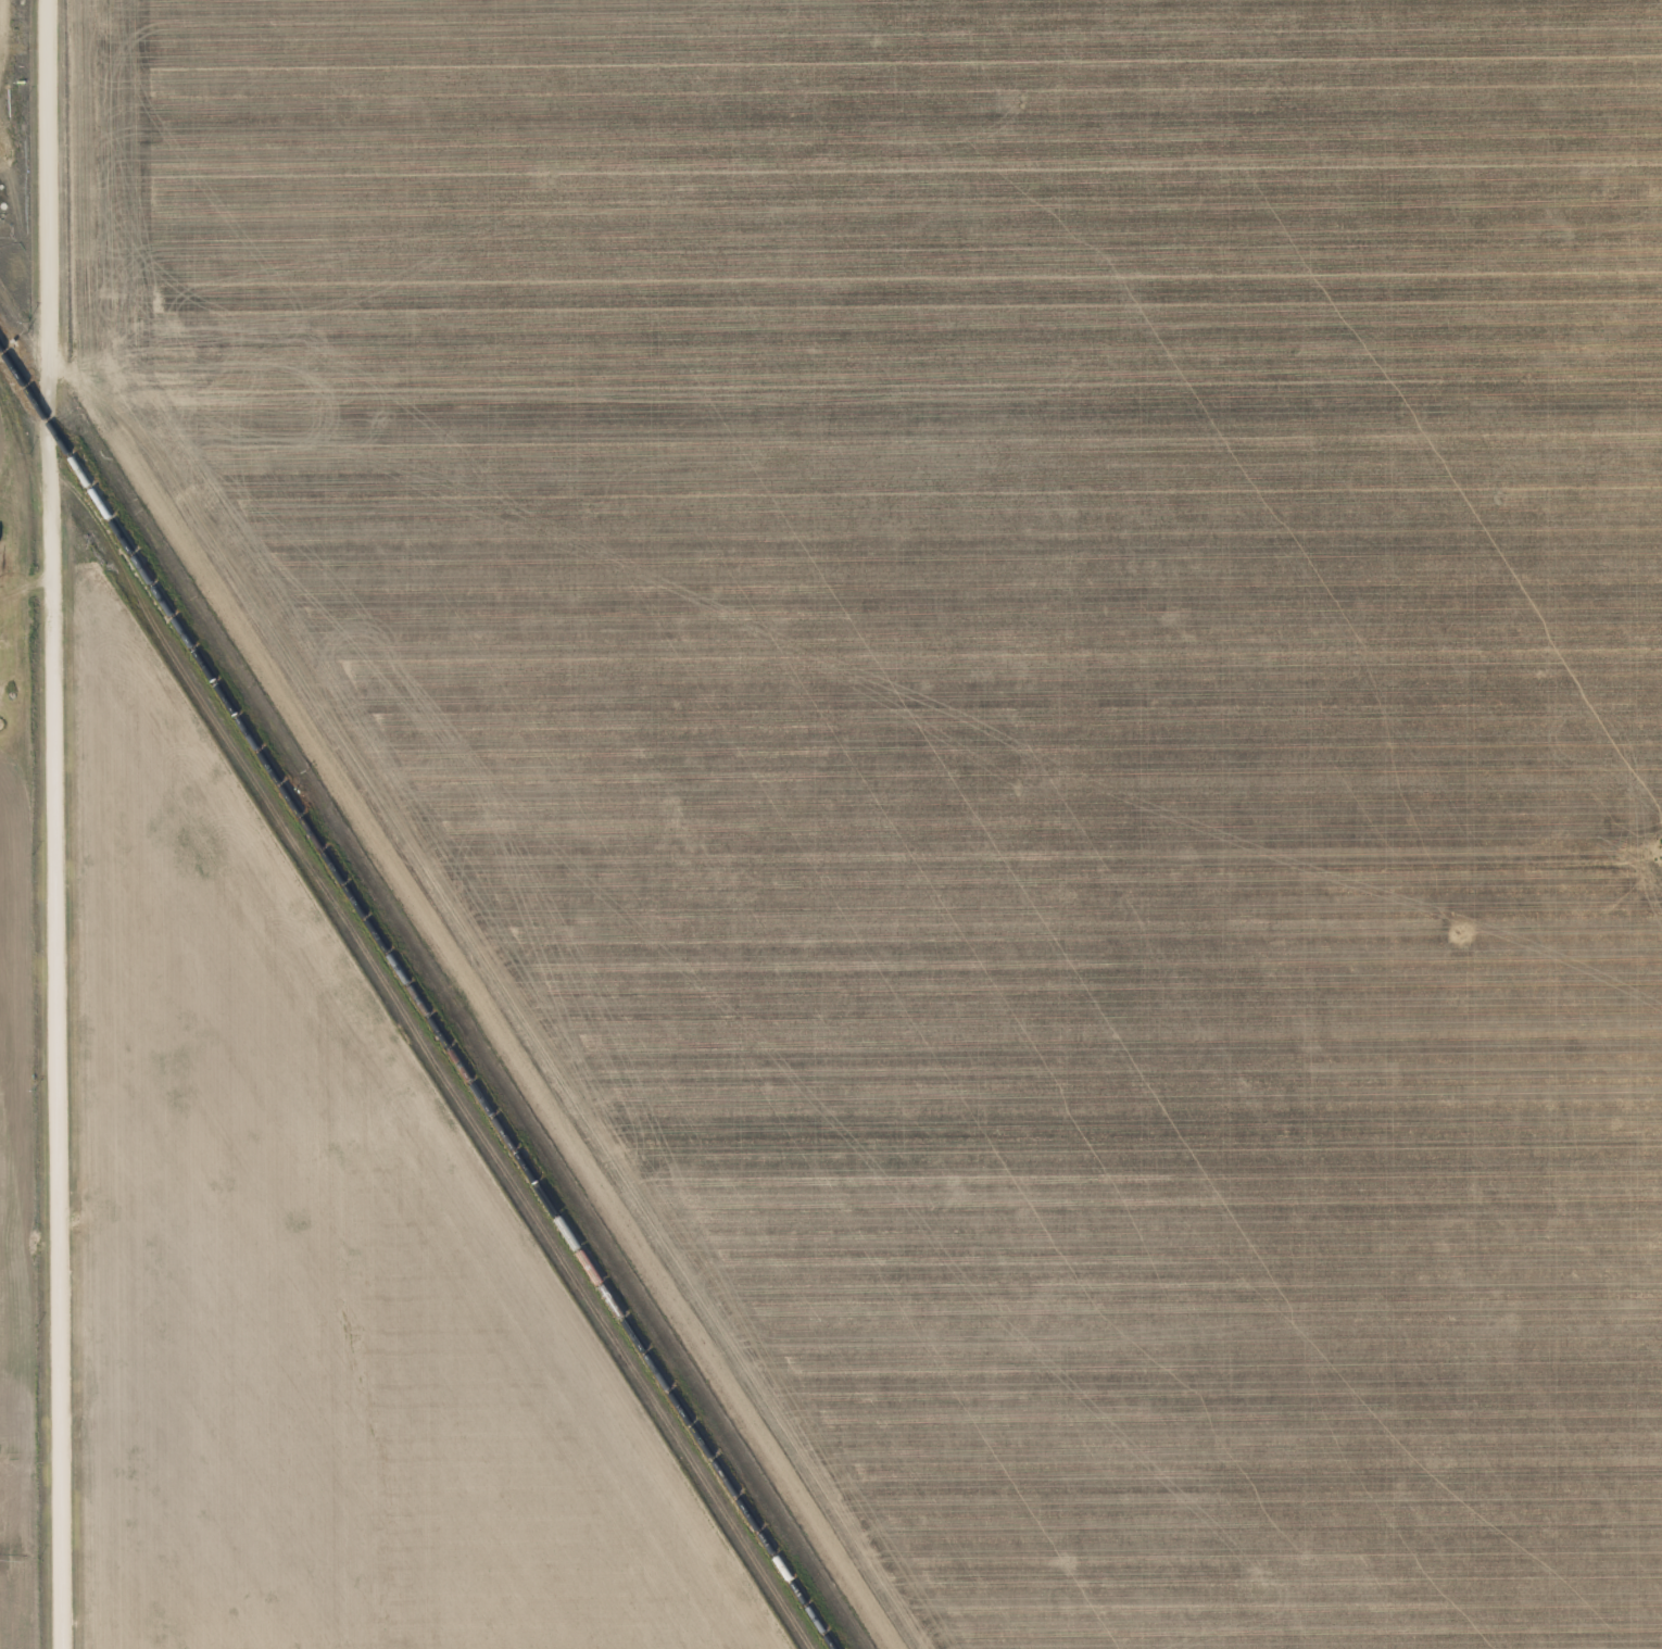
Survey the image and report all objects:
road: (52, 824)
railway: (417, 995)

